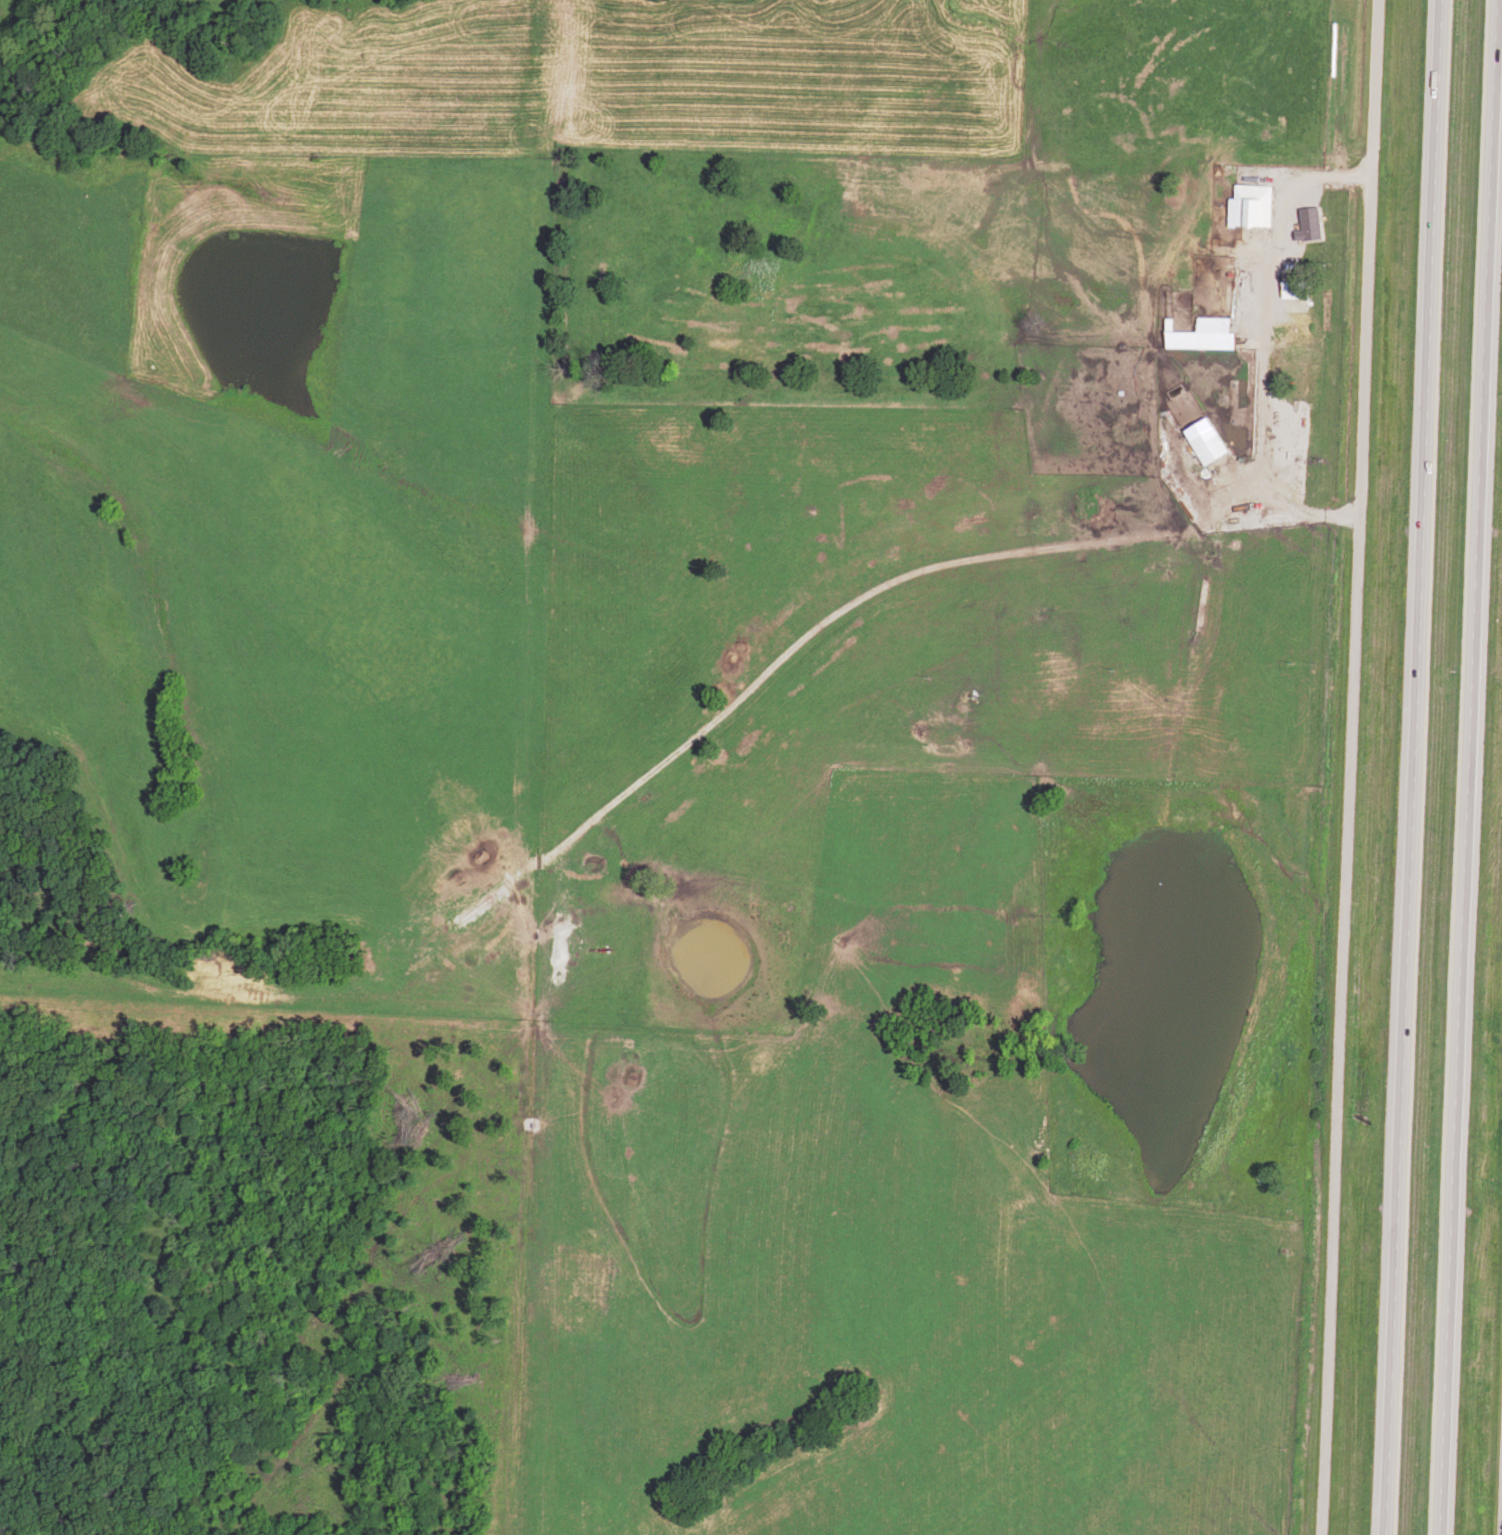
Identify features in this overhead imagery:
road: (1360, 178)
building: (1252, 207)
road: (1301, 210)
building: (1305, 224)
building: (1203, 336)
road: (1258, 398)
building: (1195, 425)
road: (1351, 767)
road: (1414, 767)
road: (1470, 767)

